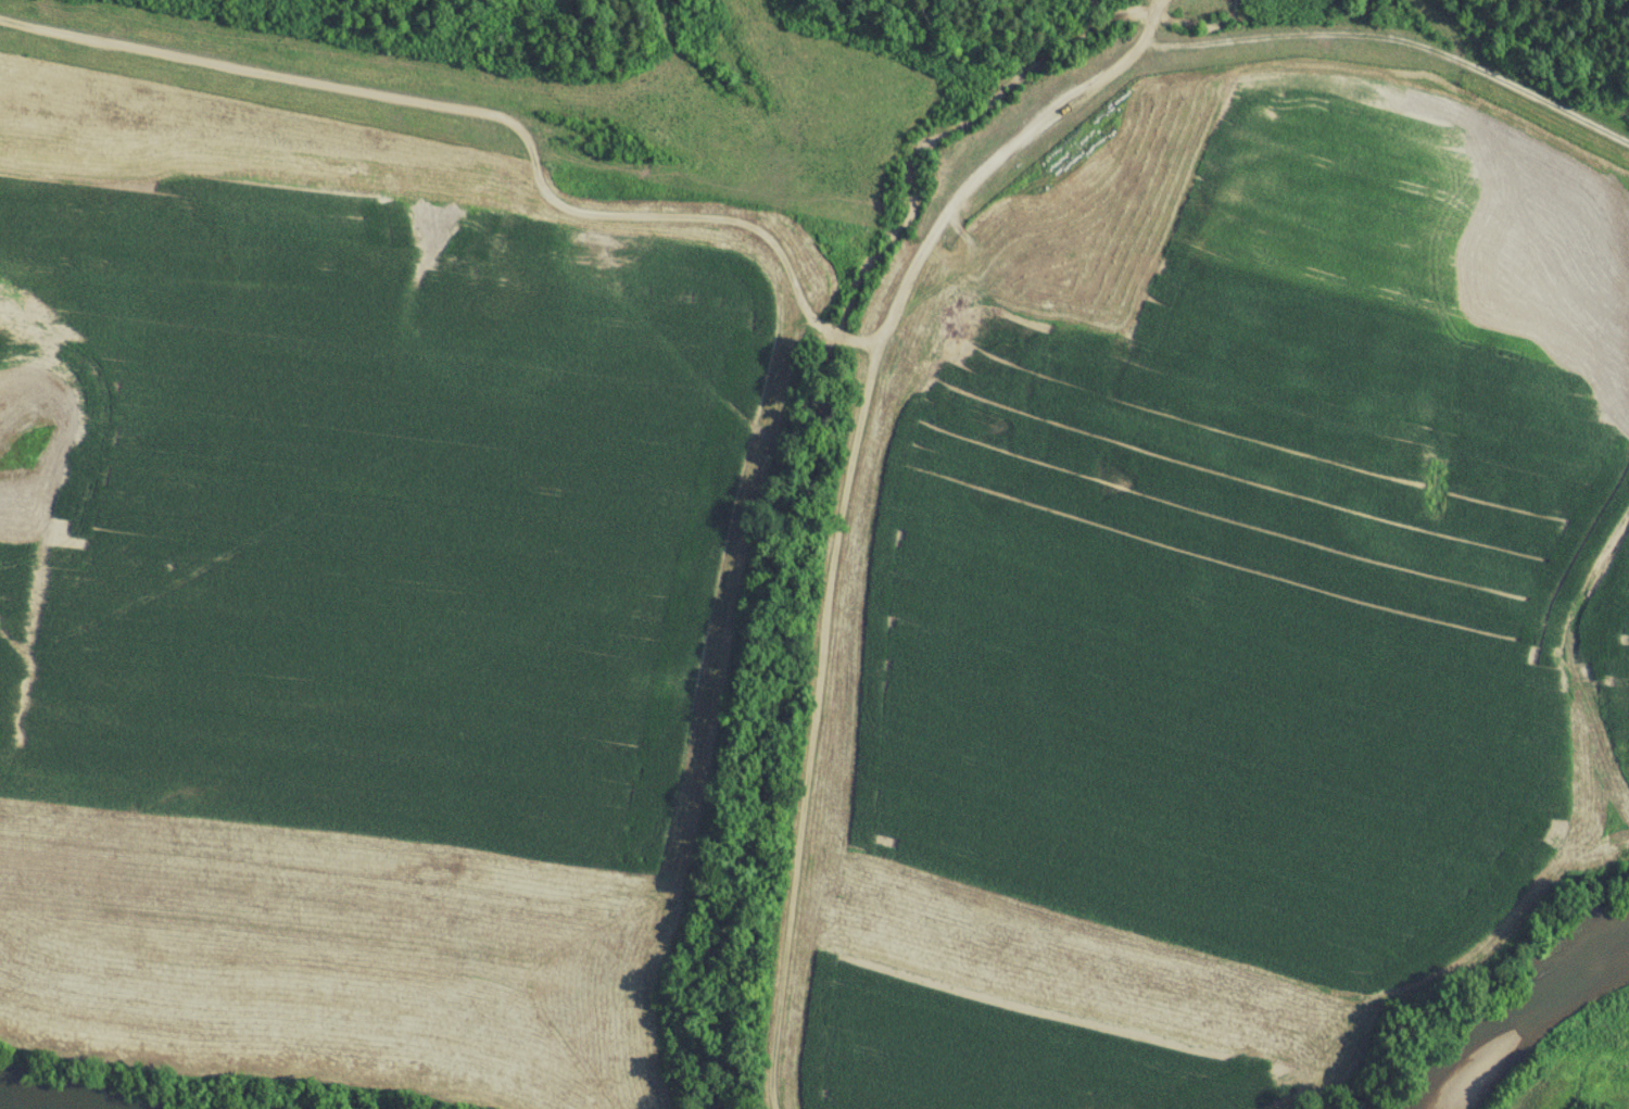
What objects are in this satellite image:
road: (1153, 22)
road: (497, 115)
road: (906, 275)

